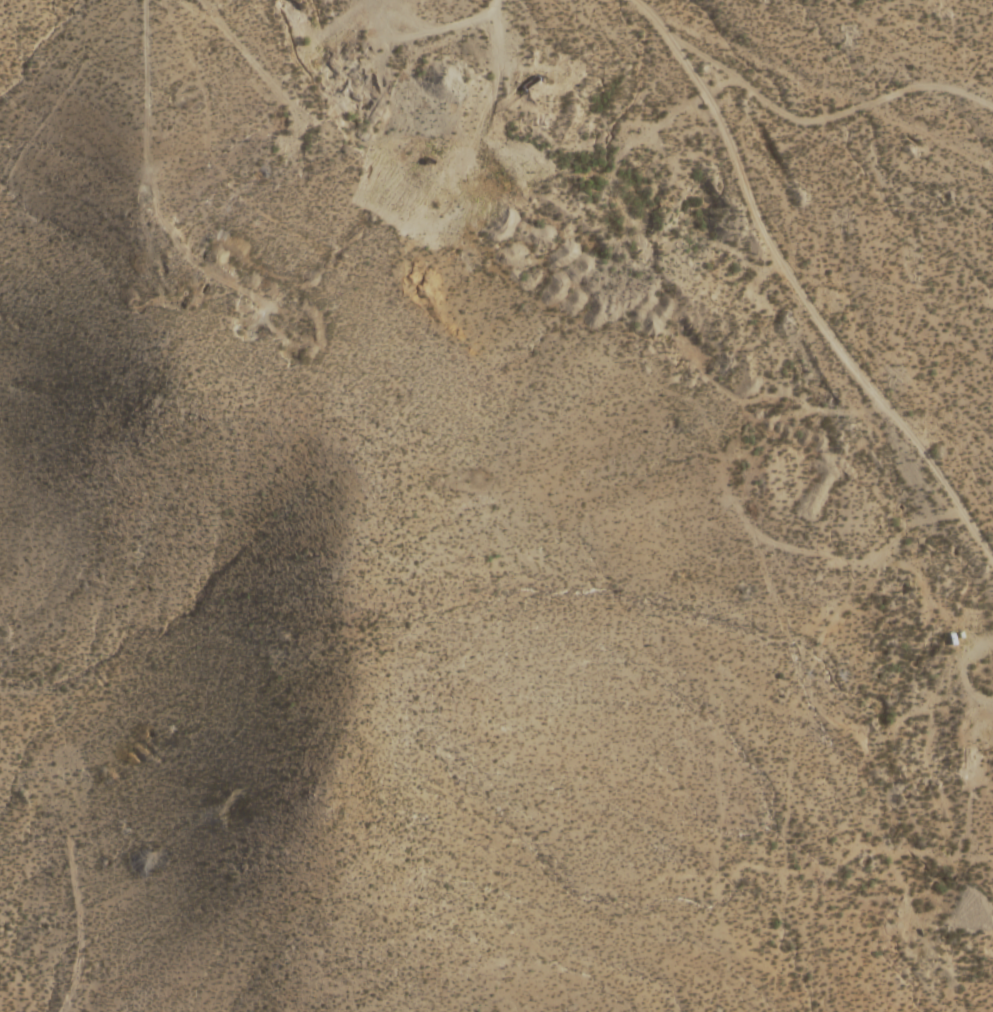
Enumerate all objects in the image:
road: (796, 59)
road: (813, 296)
road: (793, 663)

